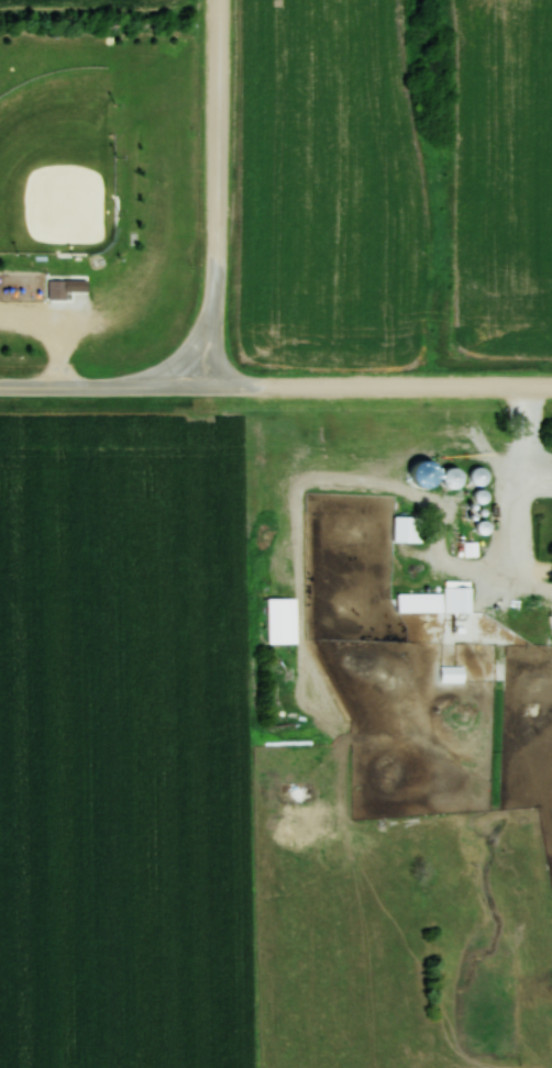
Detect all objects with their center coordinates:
road: (217, 194)
building: (56, 290)
road: (108, 388)
road: (384, 389)
building: (452, 478)
building: (408, 530)
building: (457, 600)
building: (402, 609)
building: (280, 620)
building: (451, 675)

